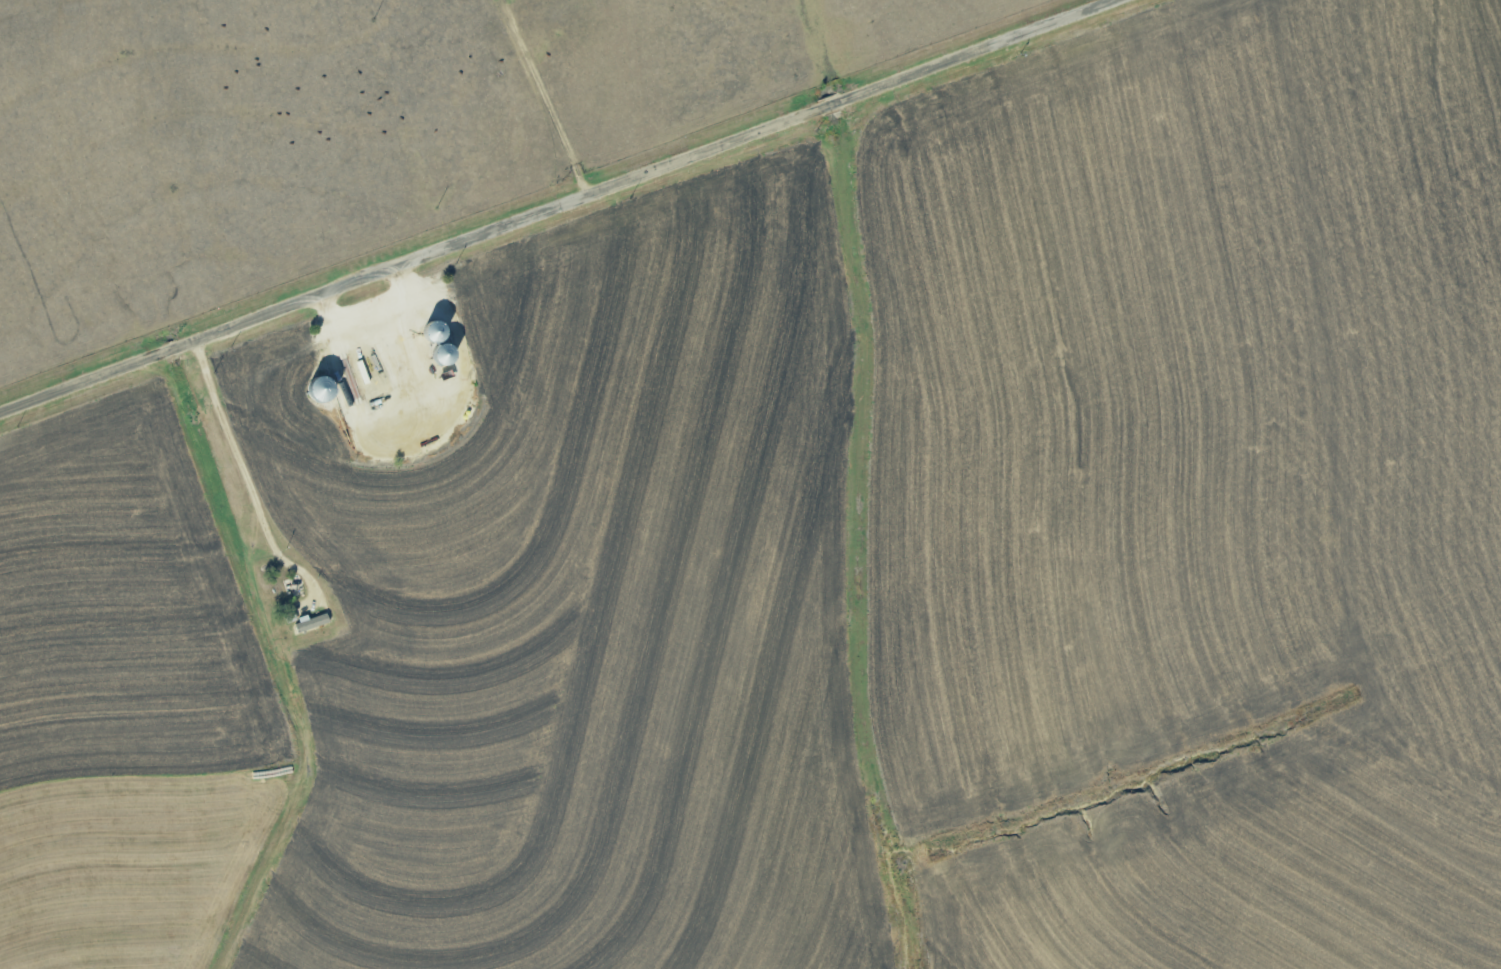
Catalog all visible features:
road: (588, 89)
road: (558, 207)
road: (242, 469)

